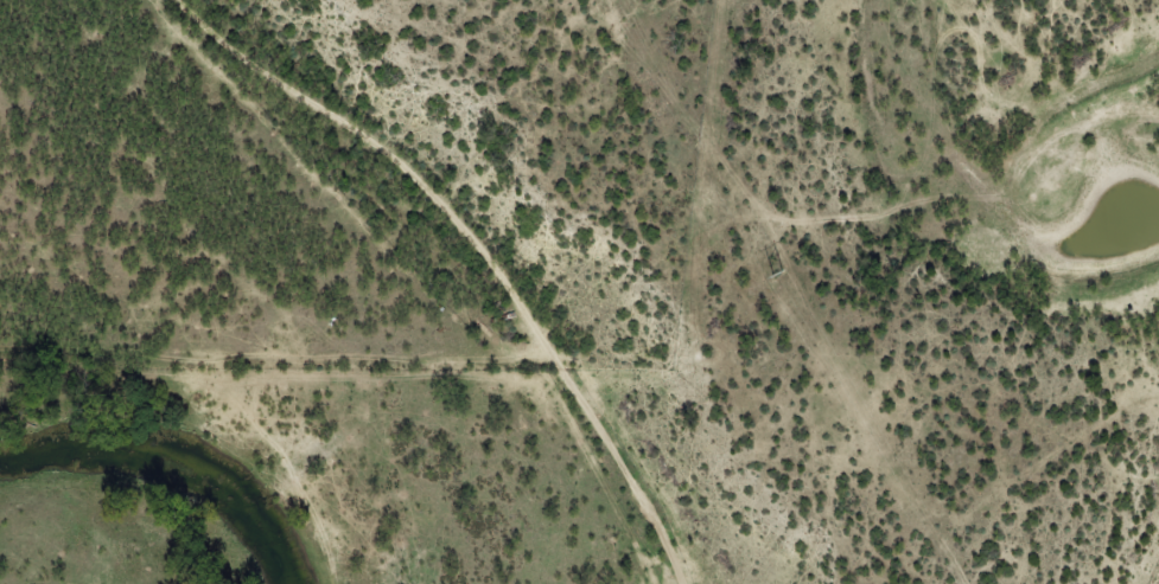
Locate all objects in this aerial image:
road: (452, 237)
power tower: (779, 271)
road: (1152, 566)

